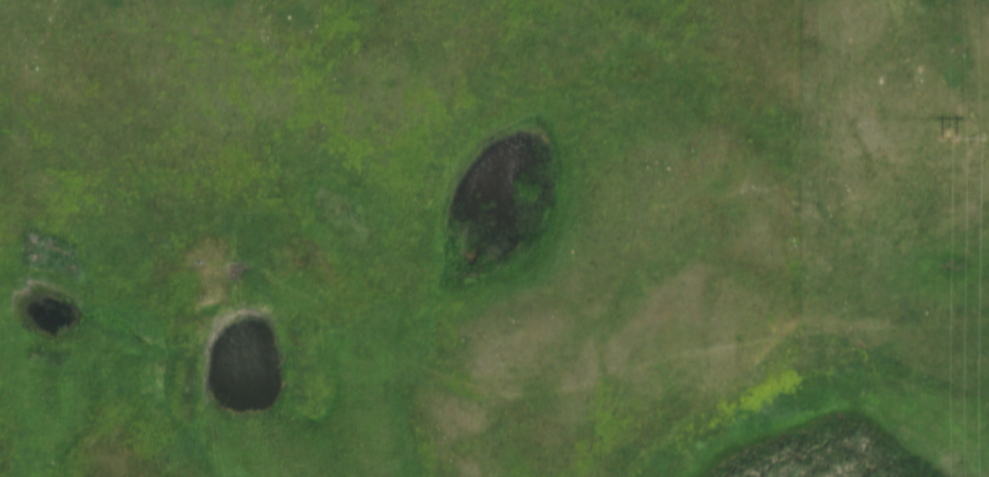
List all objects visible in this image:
power tower: (951, 138)

